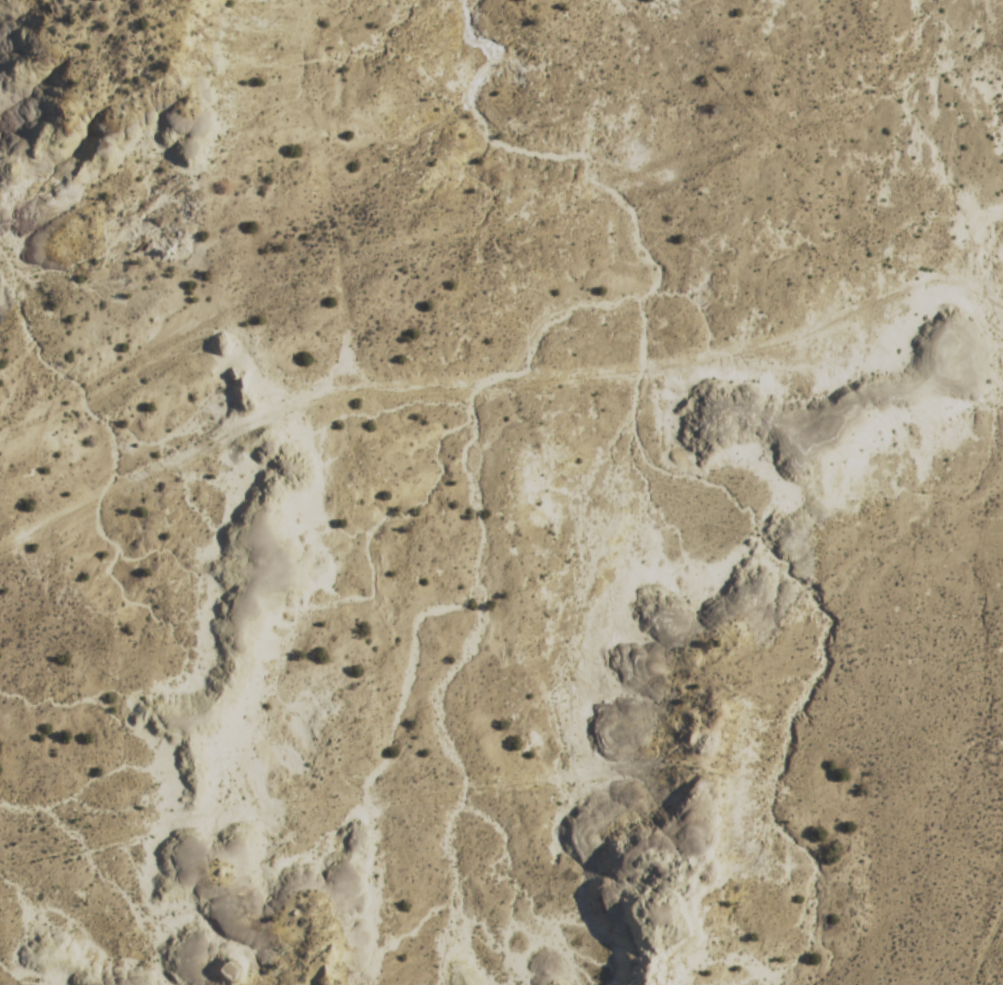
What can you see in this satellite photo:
road: (378, 192)
road: (712, 356)
road: (197, 445)

